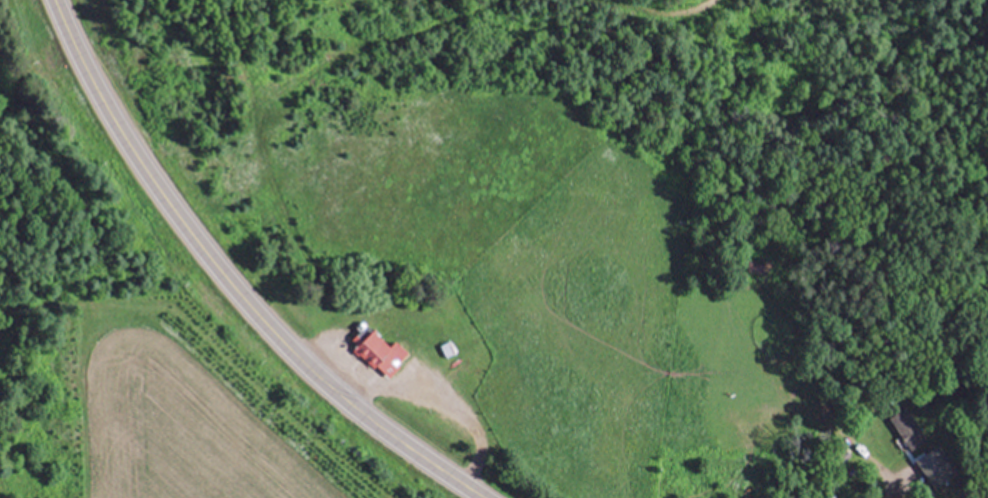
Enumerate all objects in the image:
building: (753, 272)
road: (230, 282)
building: (389, 357)
road: (421, 393)

